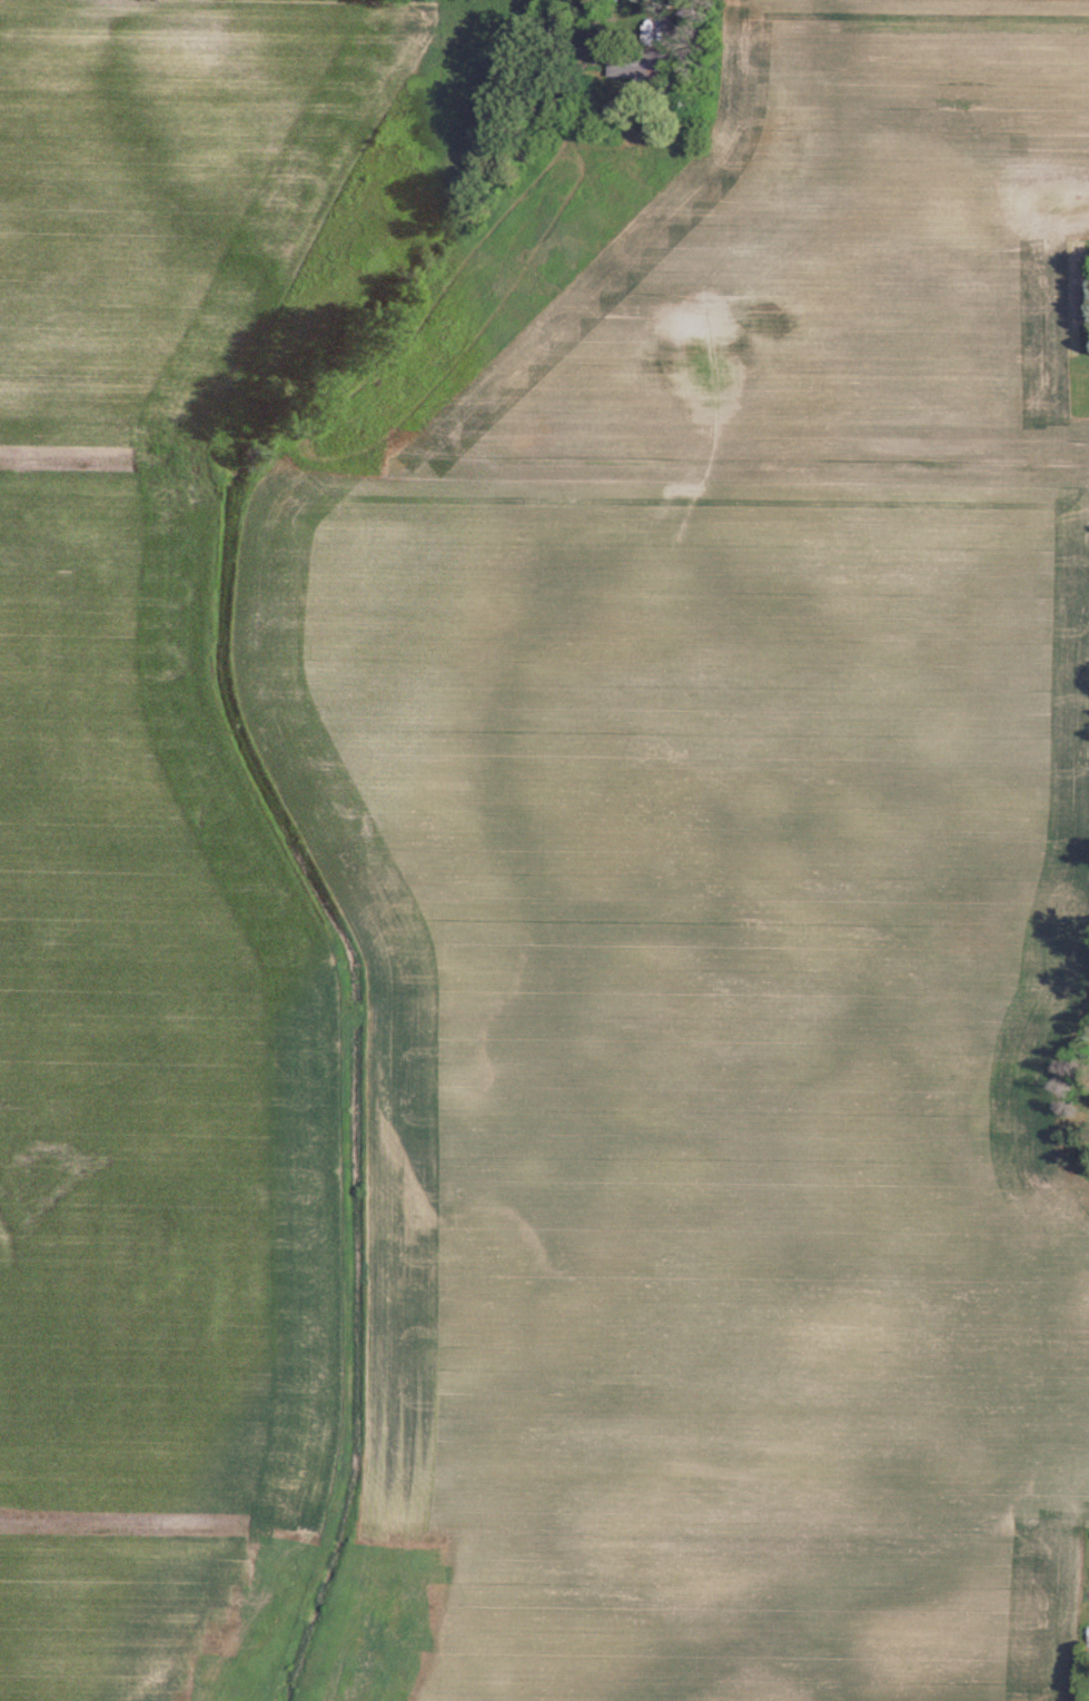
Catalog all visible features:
building: (640, 66)
building: (1000, 1123)

